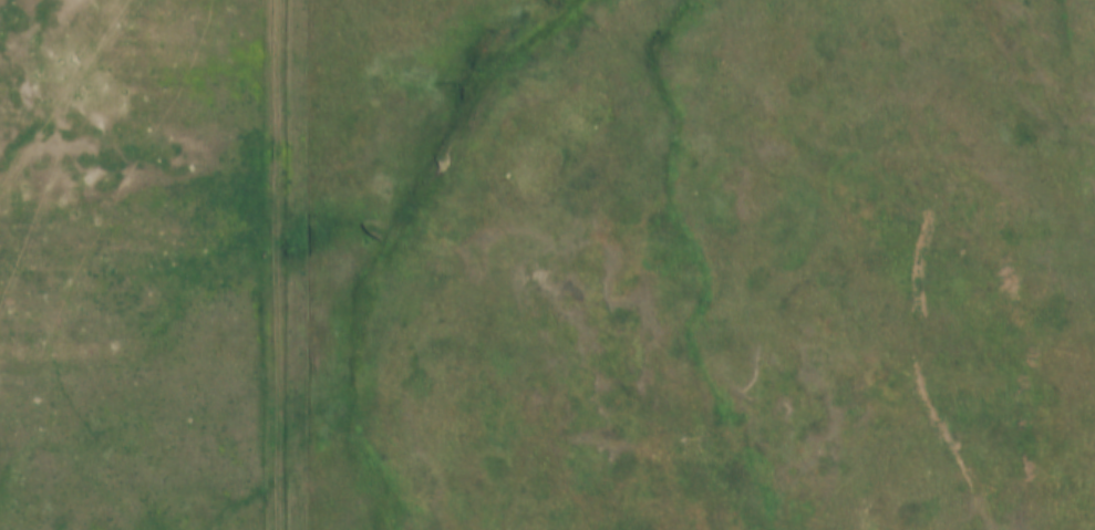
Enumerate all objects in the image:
road: (83, 85)
road: (278, 264)

